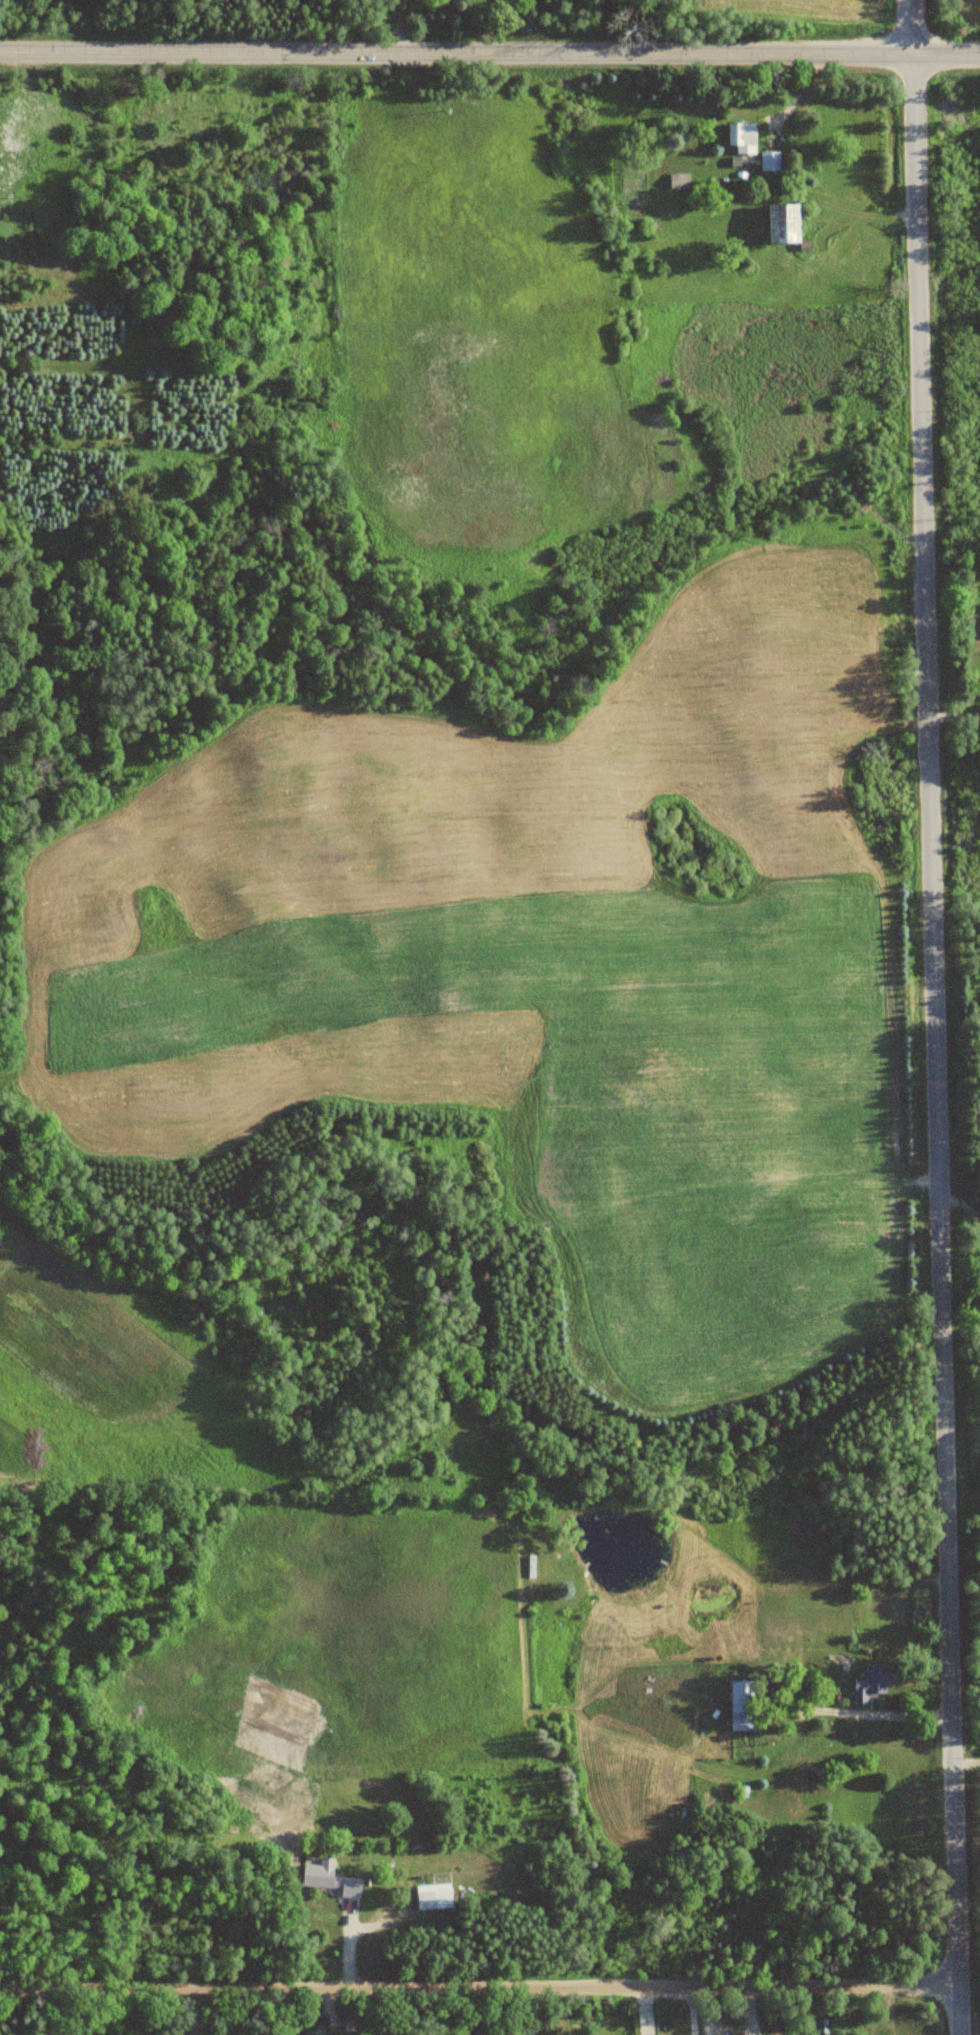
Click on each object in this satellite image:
road: (490, 54)
building: (741, 138)
building: (769, 161)
building: (782, 224)
road: (936, 1017)
building: (870, 1684)
building: (742, 1705)
road: (968, 1759)
building: (329, 1879)
building: (434, 1897)
road: (479, 1985)
road: (191, 2010)
building: (823, 2026)
building: (314, 2033)
building: (481, 2034)
building: (529, 2034)

